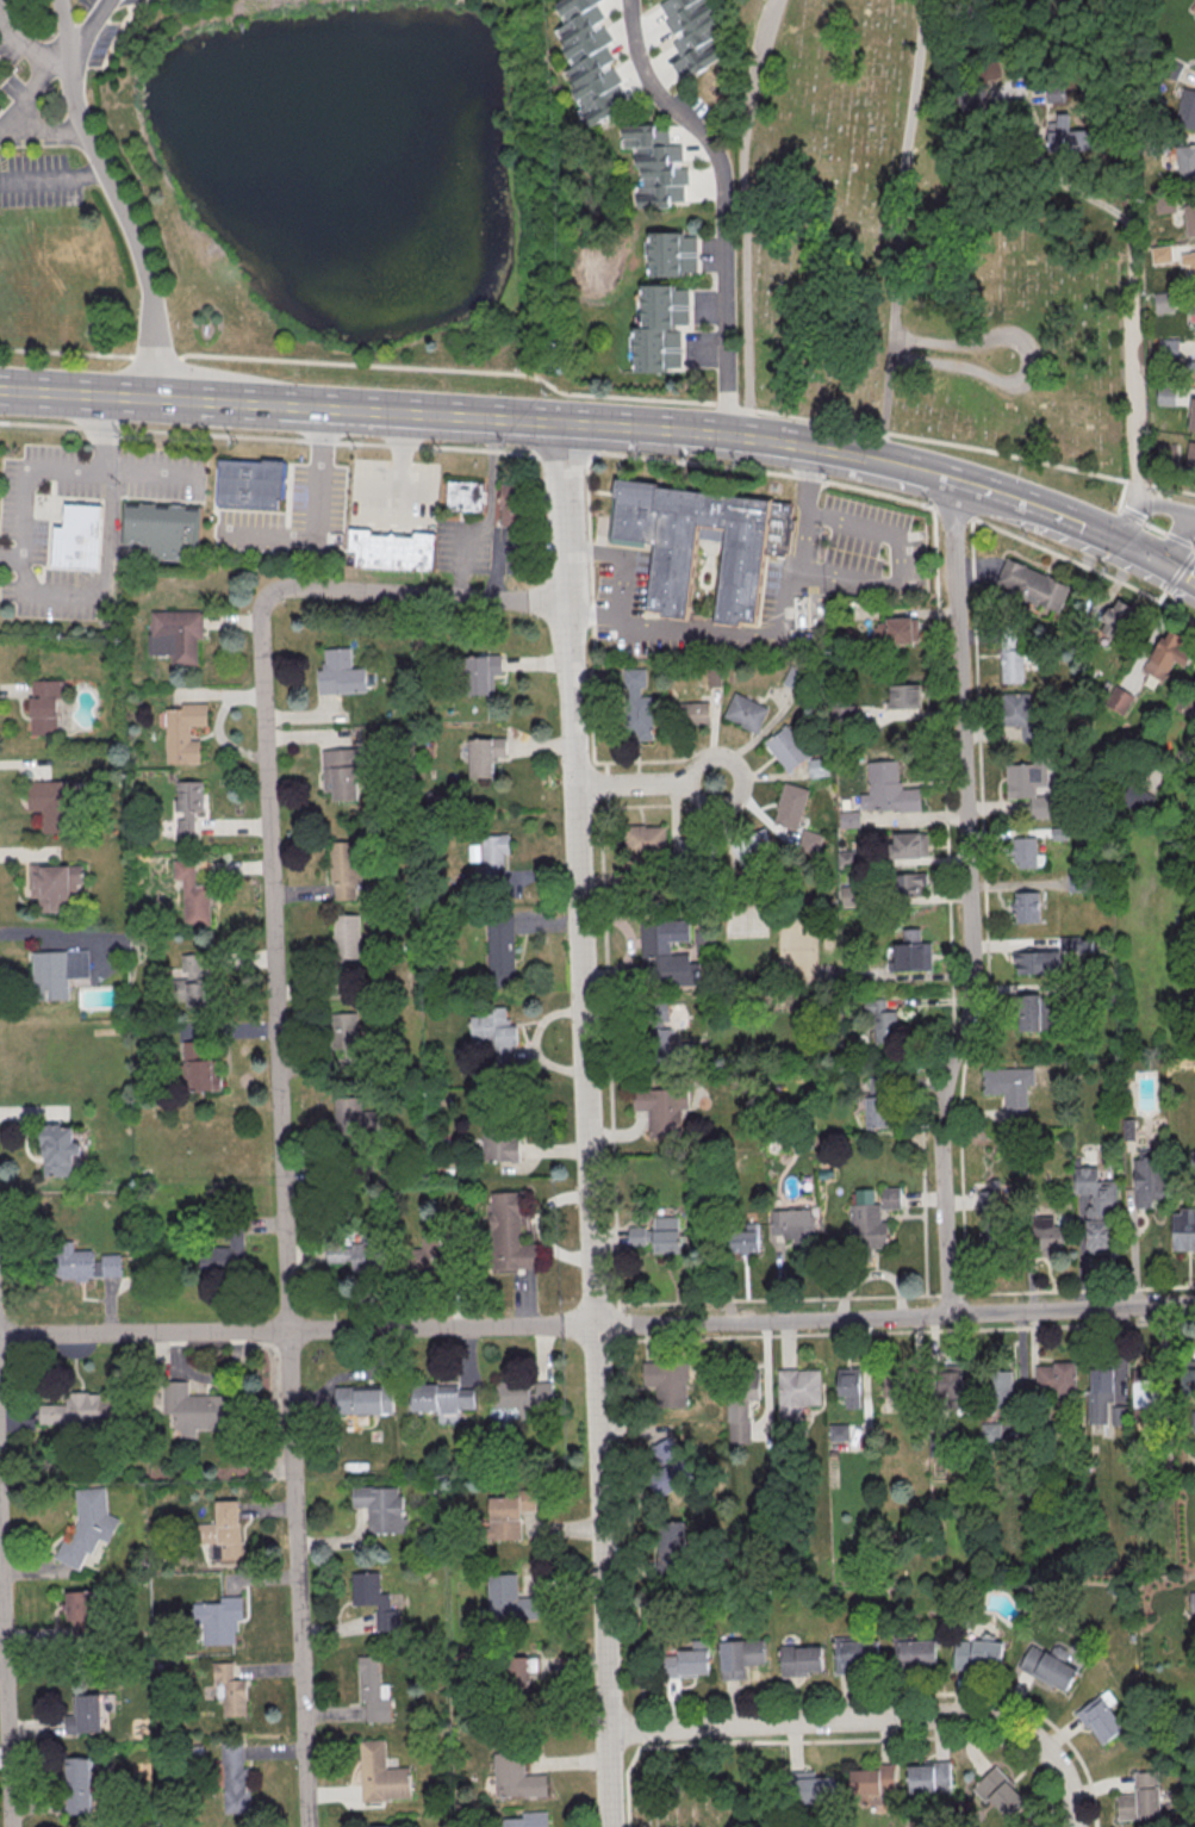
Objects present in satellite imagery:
building: (1194, 15)
road: (67, 35)
building: (691, 35)
parking lot: (761, 42)
road: (25, 45)
building: (1194, 62)
building: (0, 75)
building: (982, 81)
road: (25, 97)
building: (1187, 108)
building: (1, 111)
road: (39, 131)
building: (1070, 136)
building: (1185, 161)
building: (655, 164)
road: (51, 179)
road: (114, 192)
road: (724, 203)
building: (1164, 204)
road: (743, 216)
building: (1189, 218)
road: (889, 229)
road: (900, 230)
park: (904, 250)
road: (1133, 254)
building: (1160, 254)
building: (668, 255)
building: (1188, 261)
building: (1164, 302)
building: (1194, 318)
building: (660, 328)
building: (1168, 348)
road: (1027, 360)
building: (1189, 371)
road: (598, 394)
building: (1165, 394)
road: (218, 400)
building: (1191, 415)
road: (502, 420)
road: (715, 435)
road: (402, 450)
road: (610, 453)
building: (1166, 453)
building: (1190, 456)
road: (894, 465)
road: (66, 471)
road: (927, 473)
parking lot: (163, 474)
building: (253, 484)
parking lot: (396, 489)
road: (396, 489)
building: (467, 497)
road: (490, 503)
road: (1023, 503)
building: (511, 504)
road: (1146, 505)
parking lot: (292, 517)
road: (317, 518)
road: (1141, 522)
building: (164, 530)
parking lot: (44, 535)
building: (79, 539)
road: (1180, 539)
traffic signals: (1115, 540)
parking lot: (466, 546)
building: (754, 549)
building: (396, 551)
parking lot: (510, 552)
road: (1140, 552)
road: (108, 555)
road: (497, 561)
road: (895, 563)
traffic signals: (1166, 565)
road: (1180, 573)
road: (1177, 576)
road: (621, 582)
building: (1033, 585)
road: (421, 594)
building: (1118, 619)
road: (778, 620)
building: (894, 630)
building: (176, 636)
building: (1169, 653)
building: (1012, 658)
building: (480, 673)
building: (338, 675)
building: (1193, 688)
building: (904, 696)
building: (1119, 700)
building: (636, 704)
building: (44, 706)
building: (1017, 708)
building: (692, 713)
building: (745, 713)
building: (842, 714)
building: (185, 732)
building: (786, 747)
building: (484, 754)
building: (819, 766)
building: (341, 773)
road: (647, 782)
building: (1032, 787)
building: (888, 788)
building: (1135, 797)
building: (50, 803)
building: (790, 806)
building: (188, 807)
building: (848, 819)
building: (645, 840)
building: (809, 843)
building: (908, 844)
building: (753, 847)
building: (687, 849)
building: (1025, 852)
building: (346, 869)
building: (908, 883)
building: (56, 885)
building: (194, 890)
road: (970, 894)
building: (1026, 906)
building: (702, 934)
road: (60, 936)
building: (346, 936)
building: (1076, 943)
building: (500, 945)
building: (913, 951)
building: (666, 953)
building: (1037, 962)
building: (58, 970)
building: (198, 982)
building: (659, 1009)
building: (1032, 1012)
building: (882, 1019)
building: (494, 1032)
building: (348, 1040)
building: (664, 1044)
building: (200, 1065)
building: (1009, 1086)
building: (661, 1110)
building: (877, 1111)
building: (353, 1119)
road: (586, 1124)
road: (611, 1138)
building: (500, 1142)
building: (58, 1149)
building: (1191, 1161)
building: (1146, 1180)
building: (890, 1197)
building: (985, 1200)
building: (1097, 1208)
road: (284, 1210)
building: (866, 1220)
building: (795, 1225)
building: (1183, 1229)
building: (509, 1233)
building: (636, 1235)
building: (665, 1235)
building: (1045, 1235)
building: (742, 1238)
building: (356, 1254)
building: (223, 1255)
building: (82, 1262)
road: (905, 1295)
road: (597, 1325)
building: (1054, 1378)
building: (1188, 1380)
building: (667, 1381)
building: (890, 1385)
building: (1004, 1385)
building: (1145, 1385)
building: (849, 1386)
building: (951, 1387)
building: (1100, 1392)
building: (795, 1394)
building: (524, 1396)
building: (363, 1400)
building: (443, 1400)
building: (742, 1406)
building: (195, 1410)
building: (79, 1411)
building: (1194, 1419)
building: (990, 1430)
building: (838, 1431)
building: (666, 1466)
building: (381, 1509)
building: (510, 1512)
building: (86, 1528)
building: (229, 1530)
building: (671, 1542)
building: (508, 1599)
building: (375, 1601)
building: (1191, 1602)
building: (82, 1612)
building: (217, 1622)
building: (978, 1653)
building: (913, 1655)
building: (853, 1657)
building: (739, 1658)
building: (798, 1663)
building: (687, 1664)
road: (6, 1666)
building: (1047, 1667)
building: (519, 1672)
building: (228, 1691)
building: (373, 1692)
building: (85, 1714)
building: (1100, 1717)
road: (872, 1720)
building: (380, 1776)
building: (928, 1777)
building: (515, 1778)
building: (234, 1779)
building: (873, 1781)
building: (810, 1788)
building: (81, 1789)
park: (707, 1789)
building: (1001, 1794)
building: (1140, 1798)
building: (528, 1821)
building: (379, 1826)

